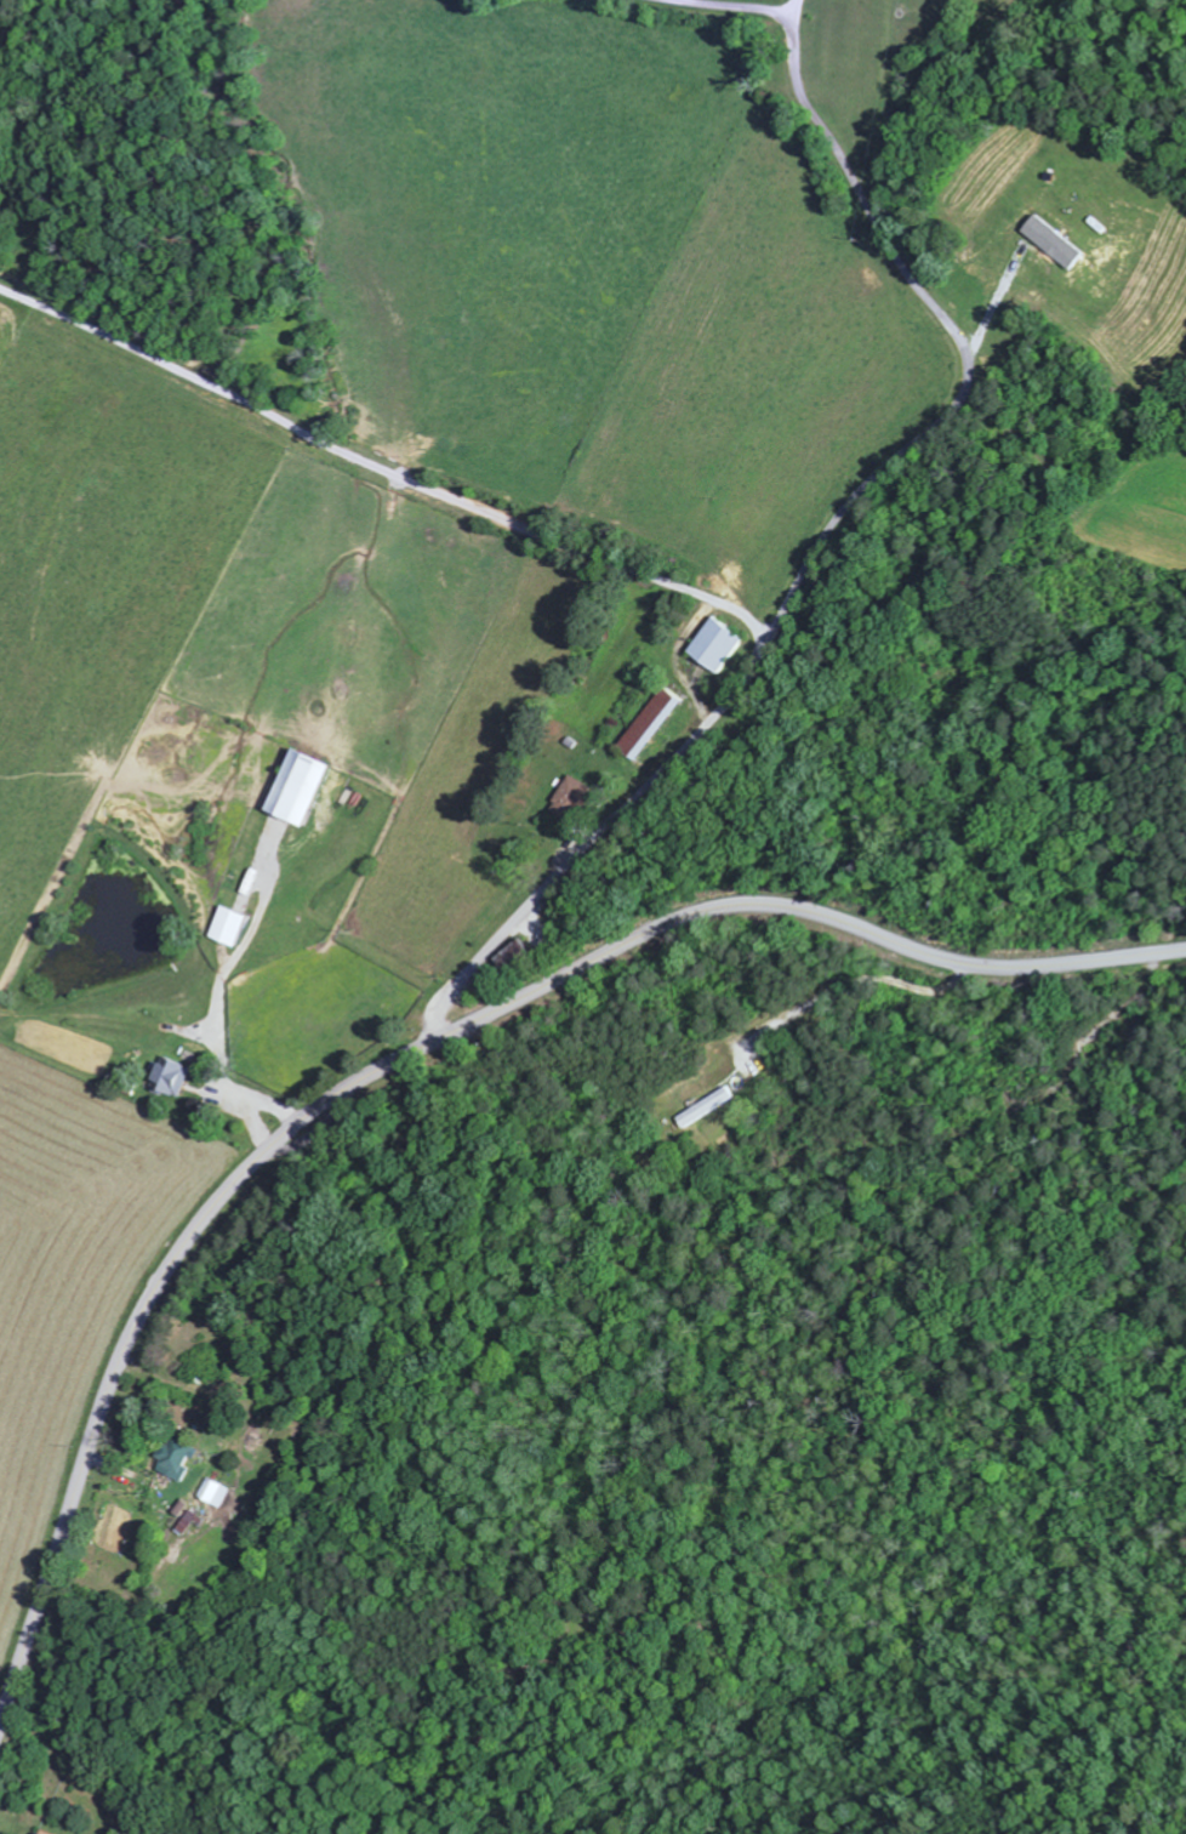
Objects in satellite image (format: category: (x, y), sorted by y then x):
building: (1061, 241)
road: (646, 570)
building: (722, 643)
building: (655, 722)
building: (309, 786)
building: (580, 799)
road: (593, 831)
building: (235, 925)
road: (411, 1055)
building: (176, 1076)
building: (707, 1106)
building: (182, 1457)
building: (217, 1492)
building: (192, 1521)
building: (50, 1832)

